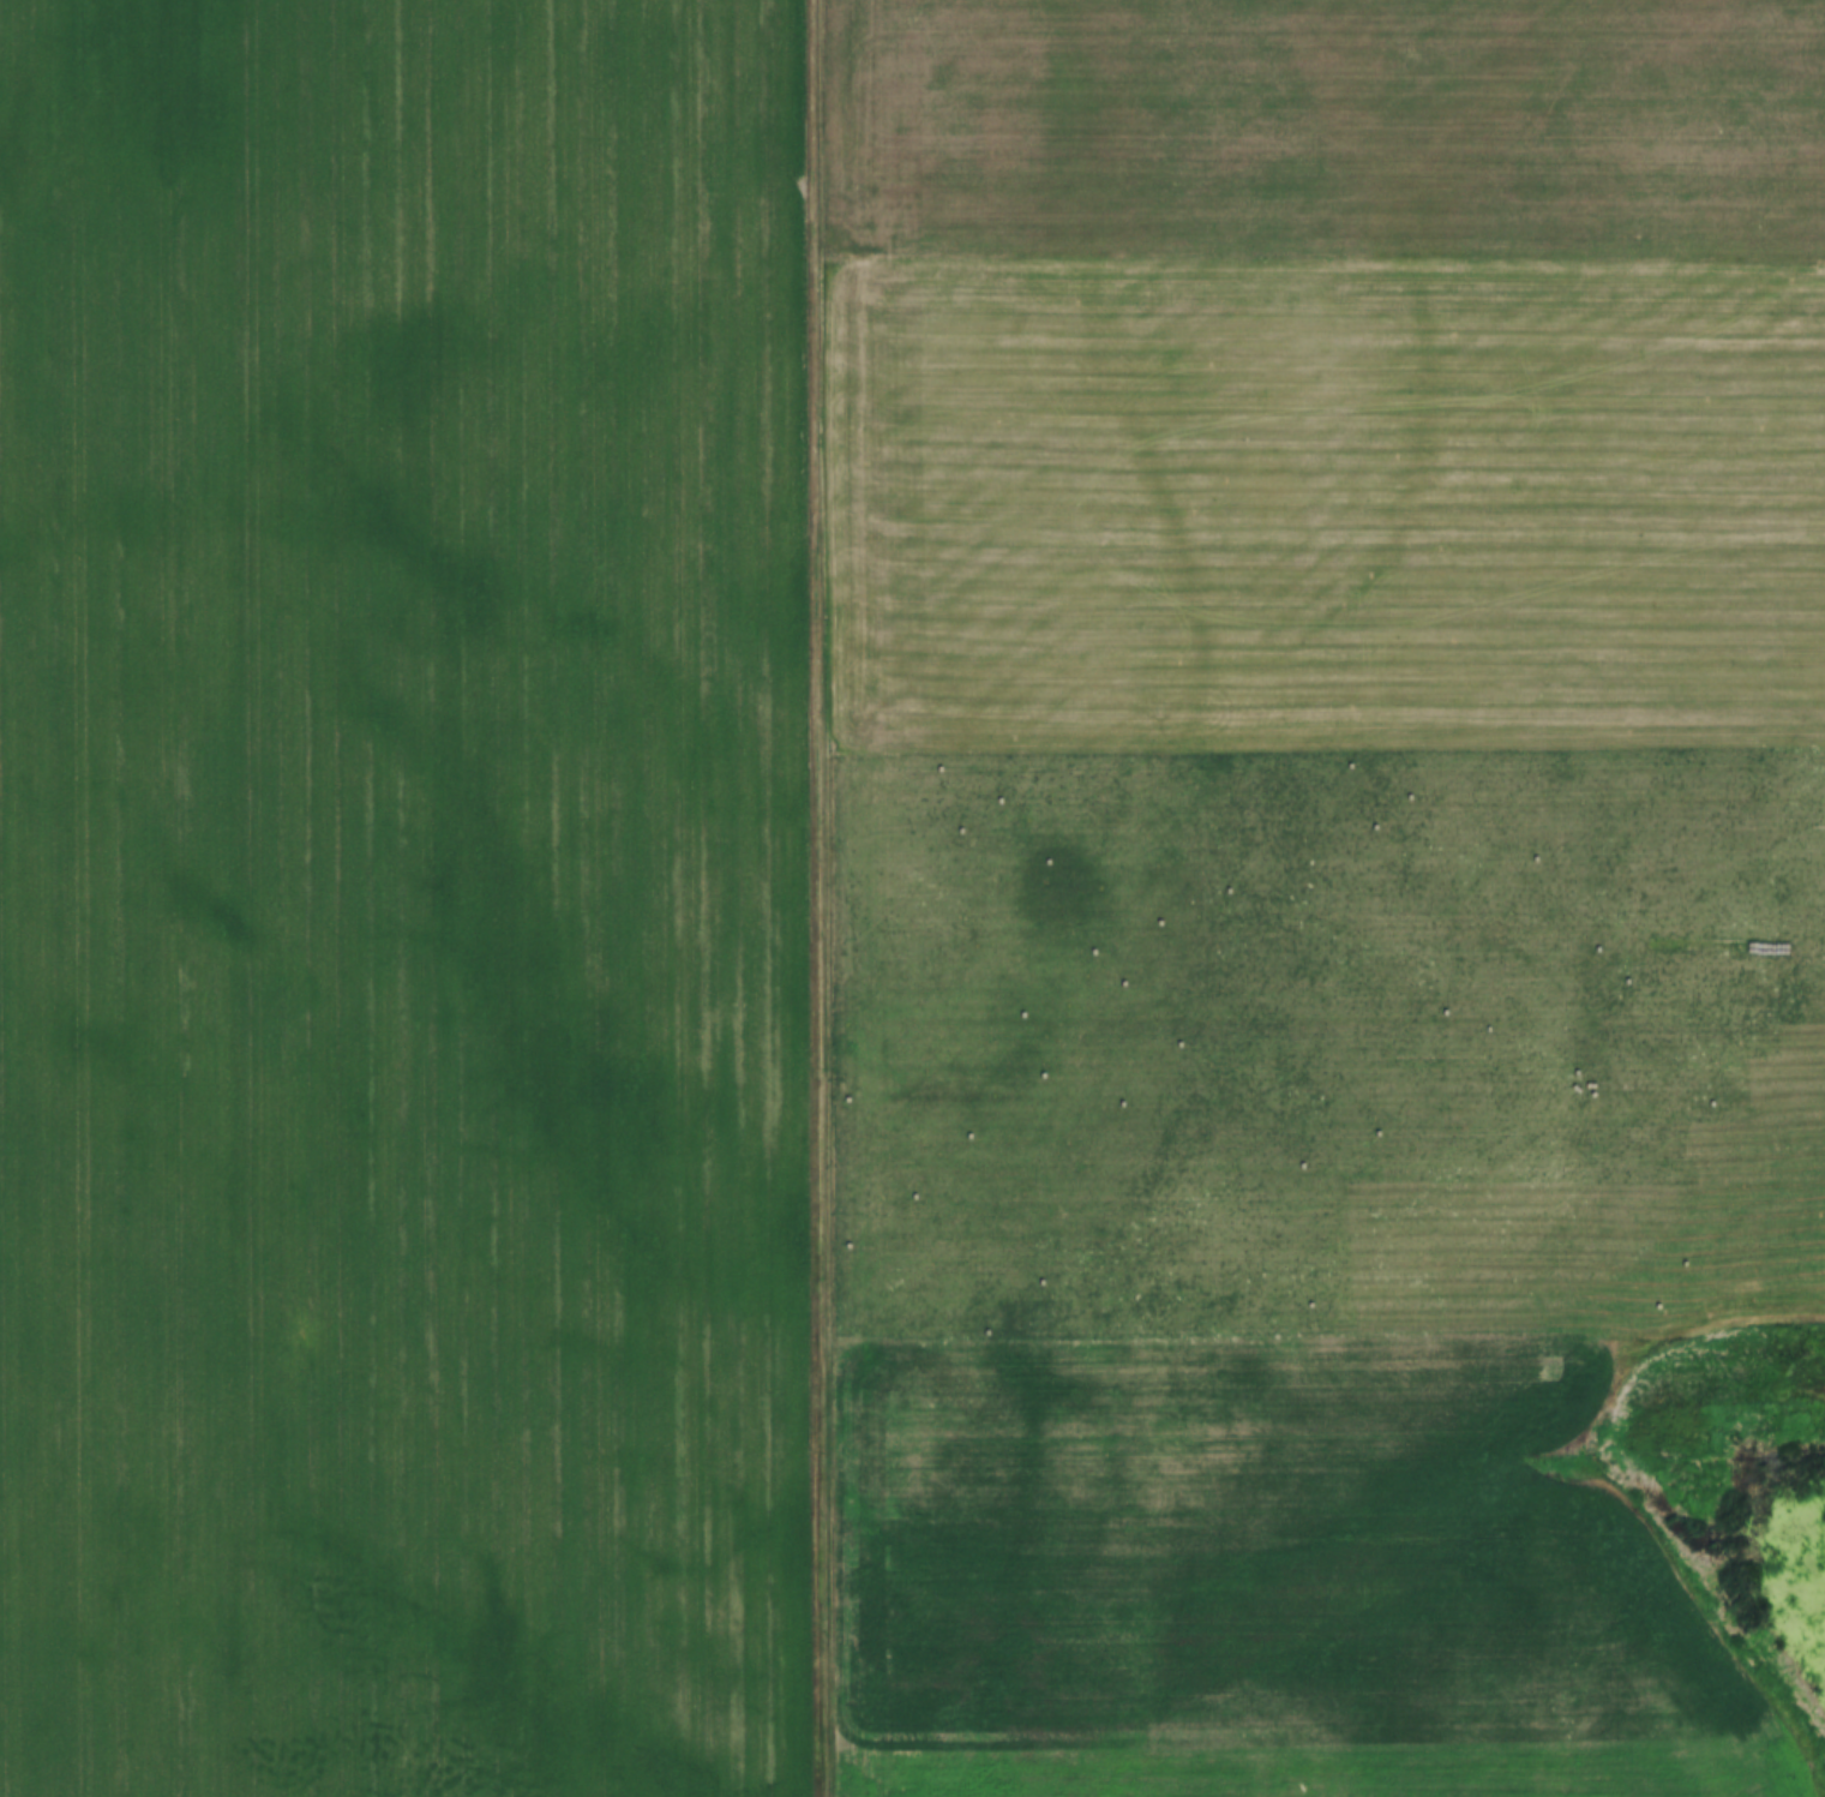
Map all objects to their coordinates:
road: (832, 898)

